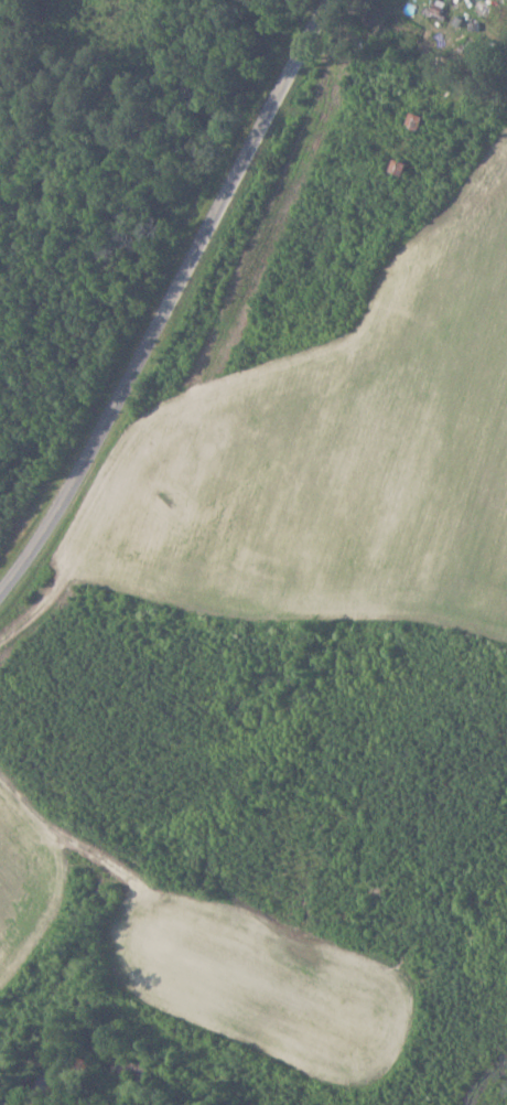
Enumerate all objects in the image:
road: (175, 300)

